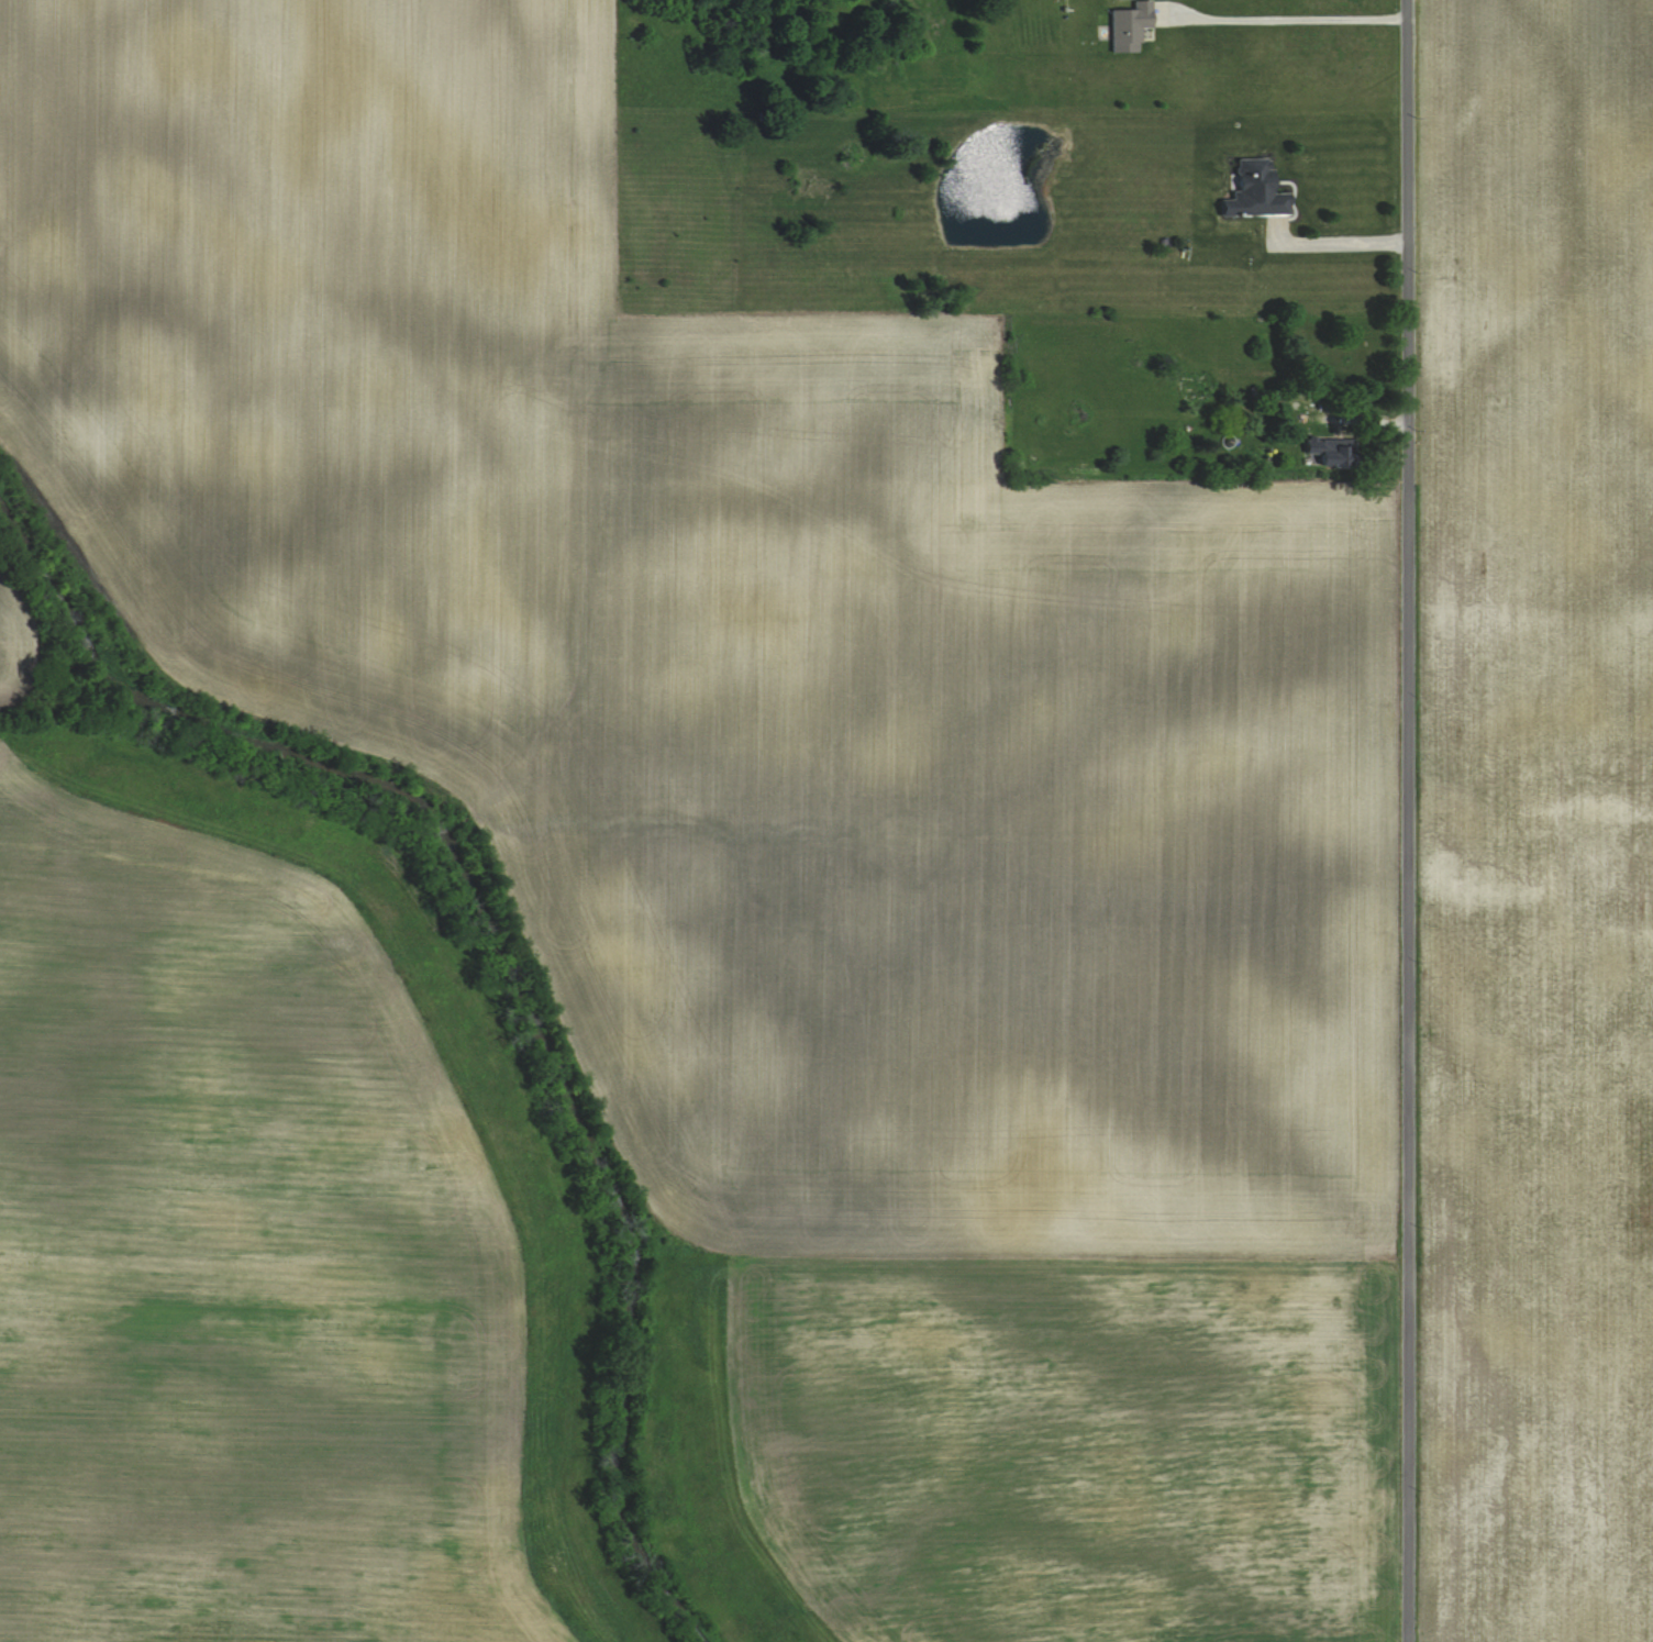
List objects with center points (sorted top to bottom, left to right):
road: (1283, 16)
building: (1130, 27)
road: (1336, 240)
building: (1195, 386)
building: (1333, 452)
road: (1408, 821)

